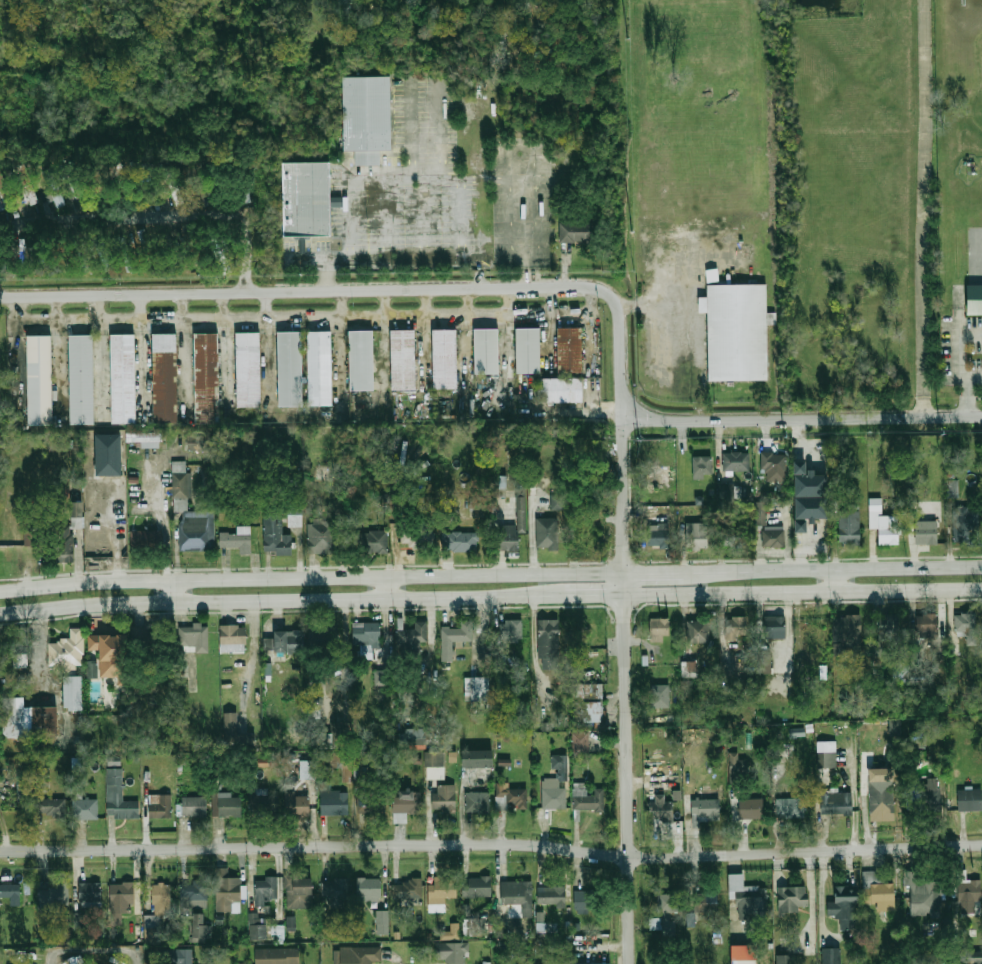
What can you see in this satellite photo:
building: (365, 112)
building: (367, 157)
building: (24, 182)
building: (171, 184)
parking lot: (407, 187)
building: (52, 189)
building: (306, 199)
road: (925, 208)
road: (171, 216)
parking lot: (528, 224)
building: (574, 231)
building: (221, 254)
building: (103, 255)
road: (402, 257)
road: (371, 289)
building: (973, 299)
road: (959, 311)
building: (738, 332)
building: (528, 349)
building: (569, 349)
road: (959, 349)
building: (485, 350)
building: (443, 358)
building: (402, 359)
building: (360, 360)
building: (290, 368)
building: (319, 368)
building: (248, 369)
road: (975, 375)
building: (207, 377)
building: (166, 379)
building: (41, 380)
building: (82, 380)
building: (125, 380)
building: (560, 390)
road: (968, 396)
road: (803, 418)
building: (145, 439)
building: (197, 442)
building: (110, 456)
building: (736, 461)
building: (773, 463)
building: (798, 466)
building: (702, 467)
building: (497, 483)
building: (809, 484)
building: (180, 485)
building: (953, 488)
building: (556, 502)
building: (478, 504)
building: (520, 506)
building: (810, 507)
building: (759, 513)
building: (75, 514)
building: (294, 520)
road: (163, 522)
building: (884, 523)
building: (799, 525)
building: (965, 525)
building: (849, 527)
building: (197, 531)
building: (925, 532)
building: (547, 533)
building: (657, 534)
building: (275, 536)
building: (411, 536)
building: (322, 537)
building: (696, 537)
building: (28, 538)
building: (733, 538)
building: (772, 538)
building: (238, 540)
building: (147, 541)
building: (373, 541)
building: (459, 541)
building: (65, 545)
road: (851, 568)
road: (674, 573)
road: (313, 577)
road: (837, 580)
road: (389, 587)
road: (173, 591)
road: (804, 592)
road: (533, 595)
road: (595, 595)
road: (250, 600)
road: (491, 606)
road: (611, 622)
building: (926, 625)
building: (965, 625)
building: (736, 626)
building: (774, 627)
building: (658, 629)
building: (813, 630)
building: (850, 630)
building: (886, 630)
building: (510, 631)
building: (698, 631)
building: (366, 633)
building: (326, 635)
building: (234, 636)
building: (143, 638)
building: (194, 639)
building: (411, 639)
building: (289, 641)
building: (548, 643)
building: (452, 645)
building: (67, 652)
building: (112, 654)
building: (764, 661)
building: (91, 669)
building: (688, 669)
building: (900, 671)
building: (379, 677)
building: (477, 688)
road: (627, 692)
building: (75, 694)
building: (660, 695)
building: (587, 703)
building: (29, 720)
building: (235, 732)
building: (411, 736)
building: (321, 739)
building: (580, 744)
building: (826, 754)
building: (433, 758)
building: (475, 759)
building: (737, 763)
building: (306, 769)
building: (553, 793)
building: (25, 795)
building: (882, 796)
building: (924, 796)
building: (120, 798)
building: (444, 798)
building: (511, 799)
building: (588, 799)
building: (969, 800)
building: (333, 801)
building: (407, 802)
building: (264, 803)
building: (371, 803)
building: (477, 803)
building: (836, 803)
building: (298, 805)
building: (230, 806)
building: (195, 807)
building: (790, 807)
building: (52, 808)
building: (160, 808)
building: (86, 809)
building: (751, 809)
building: (705, 810)
building: (662, 811)
road: (491, 845)
building: (476, 887)
building: (267, 888)
building: (441, 888)
building: (229, 889)
building: (369, 889)
building: (407, 889)
building: (876, 889)
building: (10, 891)
building: (969, 891)
building: (300, 892)
building: (336, 892)
building: (91, 894)
building: (194, 894)
building: (53, 895)
building: (517, 895)
building: (123, 896)
building: (748, 896)
building: (928, 896)
building: (552, 897)
building: (586, 899)
building: (791, 899)
building: (705, 901)
building: (847, 902)
building: (157, 912)
building: (665, 913)
building: (80, 920)
building: (382, 922)
building: (200, 927)
building: (475, 927)
building: (259, 932)
building: (451, 932)
road: (92, 949)
building: (451, 952)
building: (280, 953)
building: (360, 954)
building: (743, 954)
building: (830, 955)
building: (180, 956)
building: (975, 956)
building: (785, 959)
building: (74, 960)
building: (603, 963)

